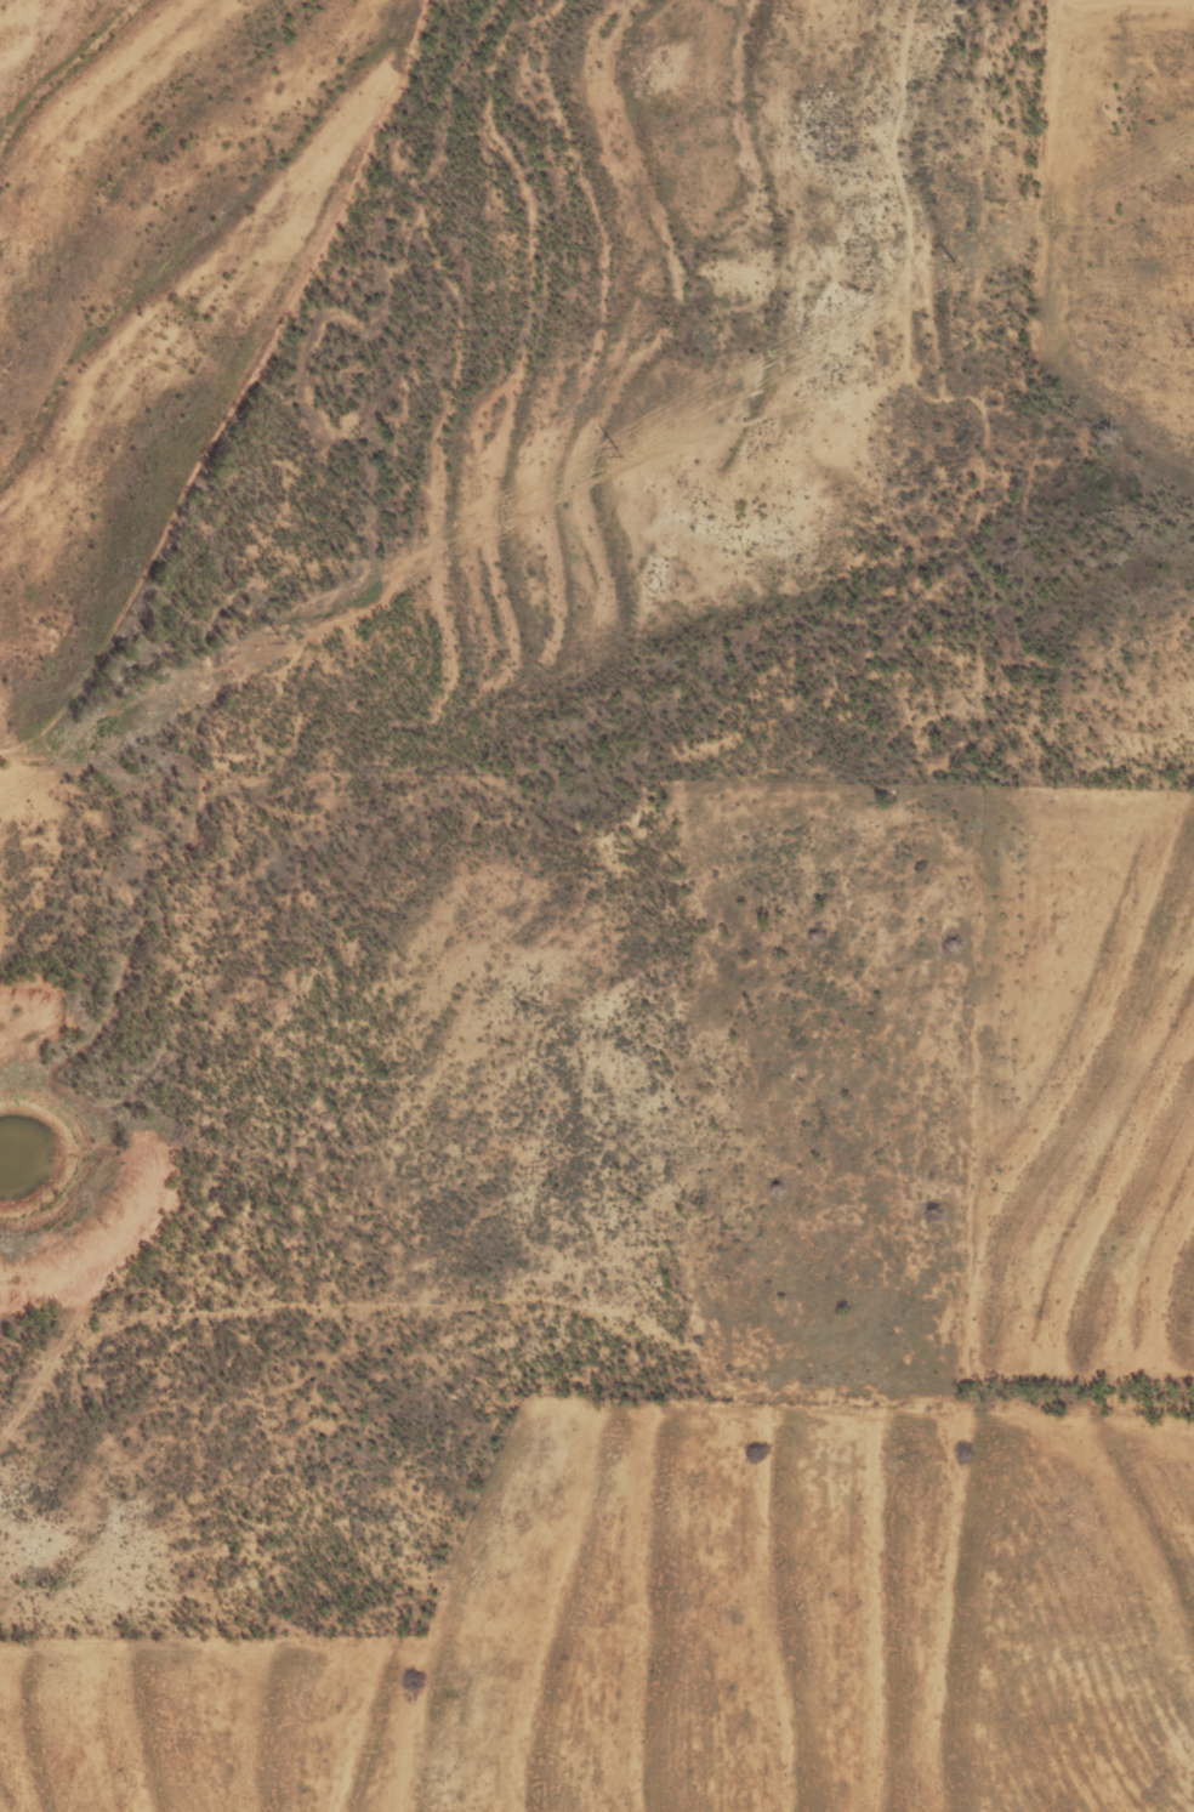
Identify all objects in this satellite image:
power tower: (962, 272)
power tower: (618, 453)
power tower: (283, 638)

